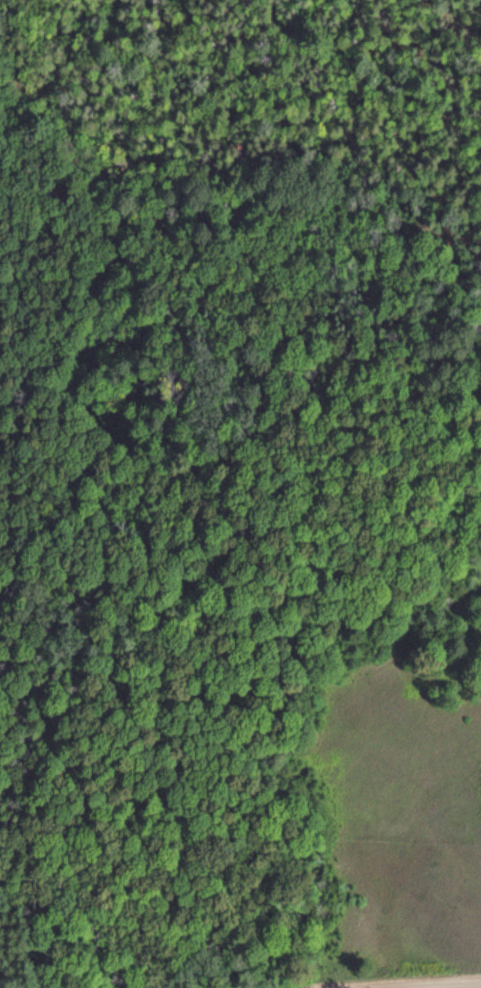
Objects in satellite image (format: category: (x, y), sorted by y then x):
road: (430, 984)

